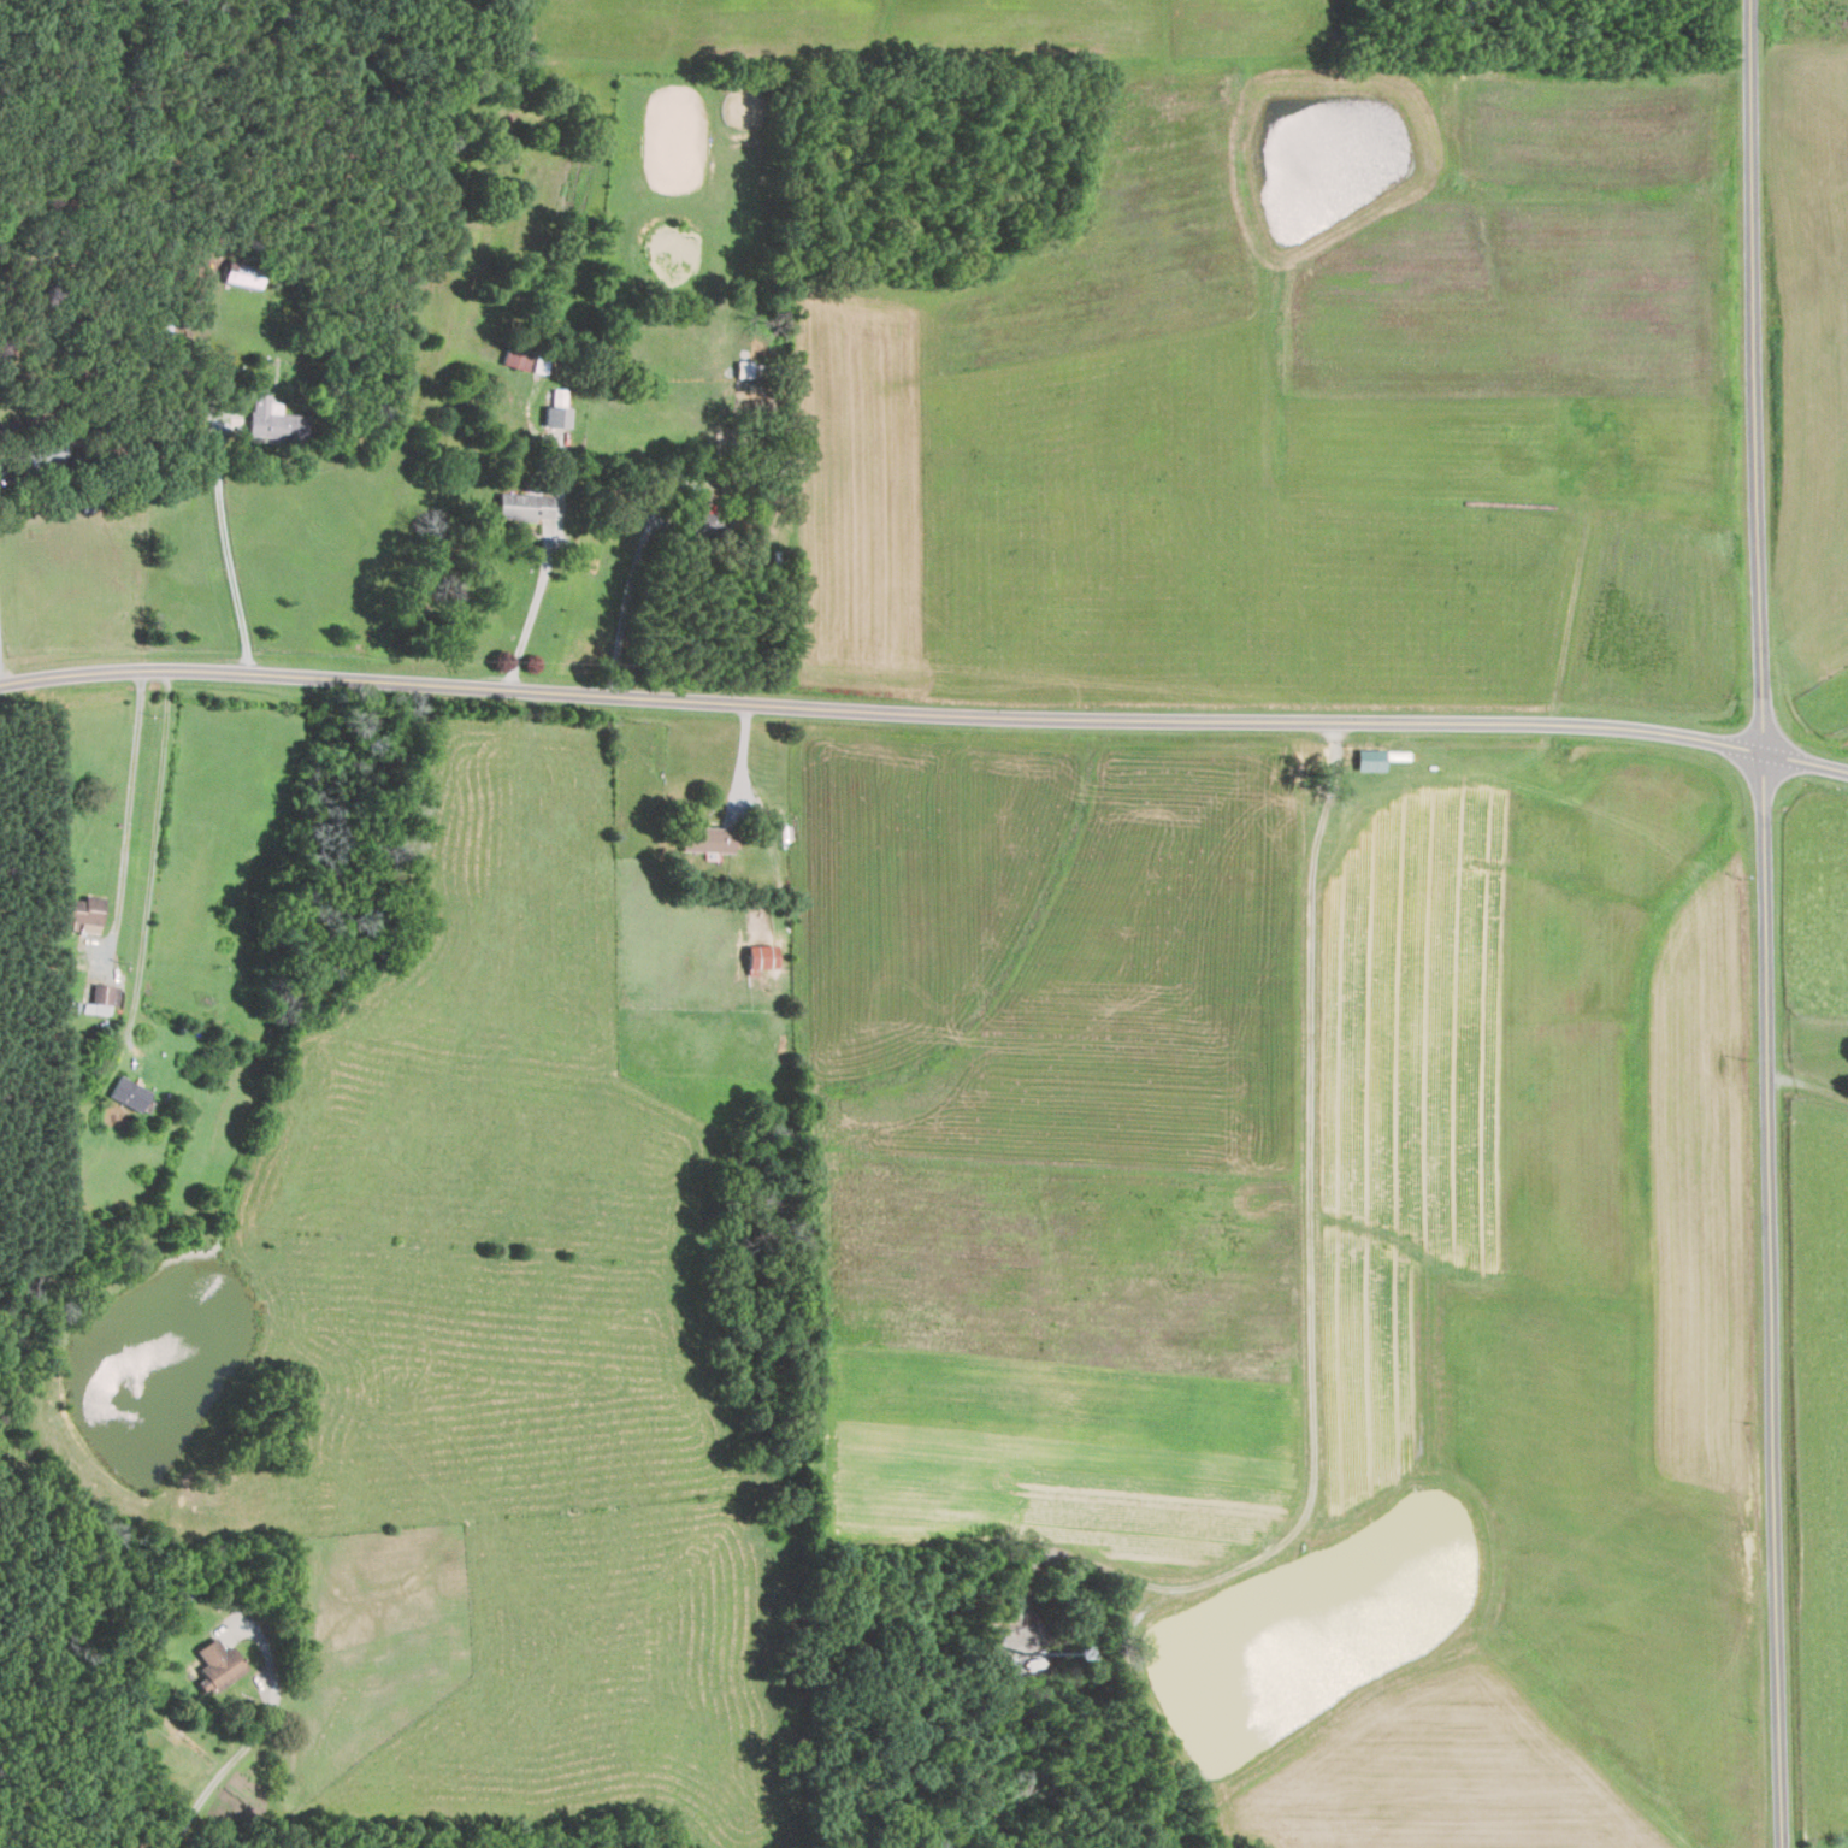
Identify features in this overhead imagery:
building: (743, 368)
building: (270, 420)
building: (555, 430)
building: (524, 504)
road: (226, 549)
road: (539, 580)
road: (630, 603)
road: (0, 674)
road: (925, 713)
road: (739, 761)
road: (125, 804)
building: (712, 838)
road: (150, 869)
building: (84, 911)
road: (1766, 923)
building: (761, 955)
building: (102, 998)
road: (1808, 1085)
building: (129, 1092)
road: (1310, 1294)
building: (218, 1665)
road: (261, 1730)

